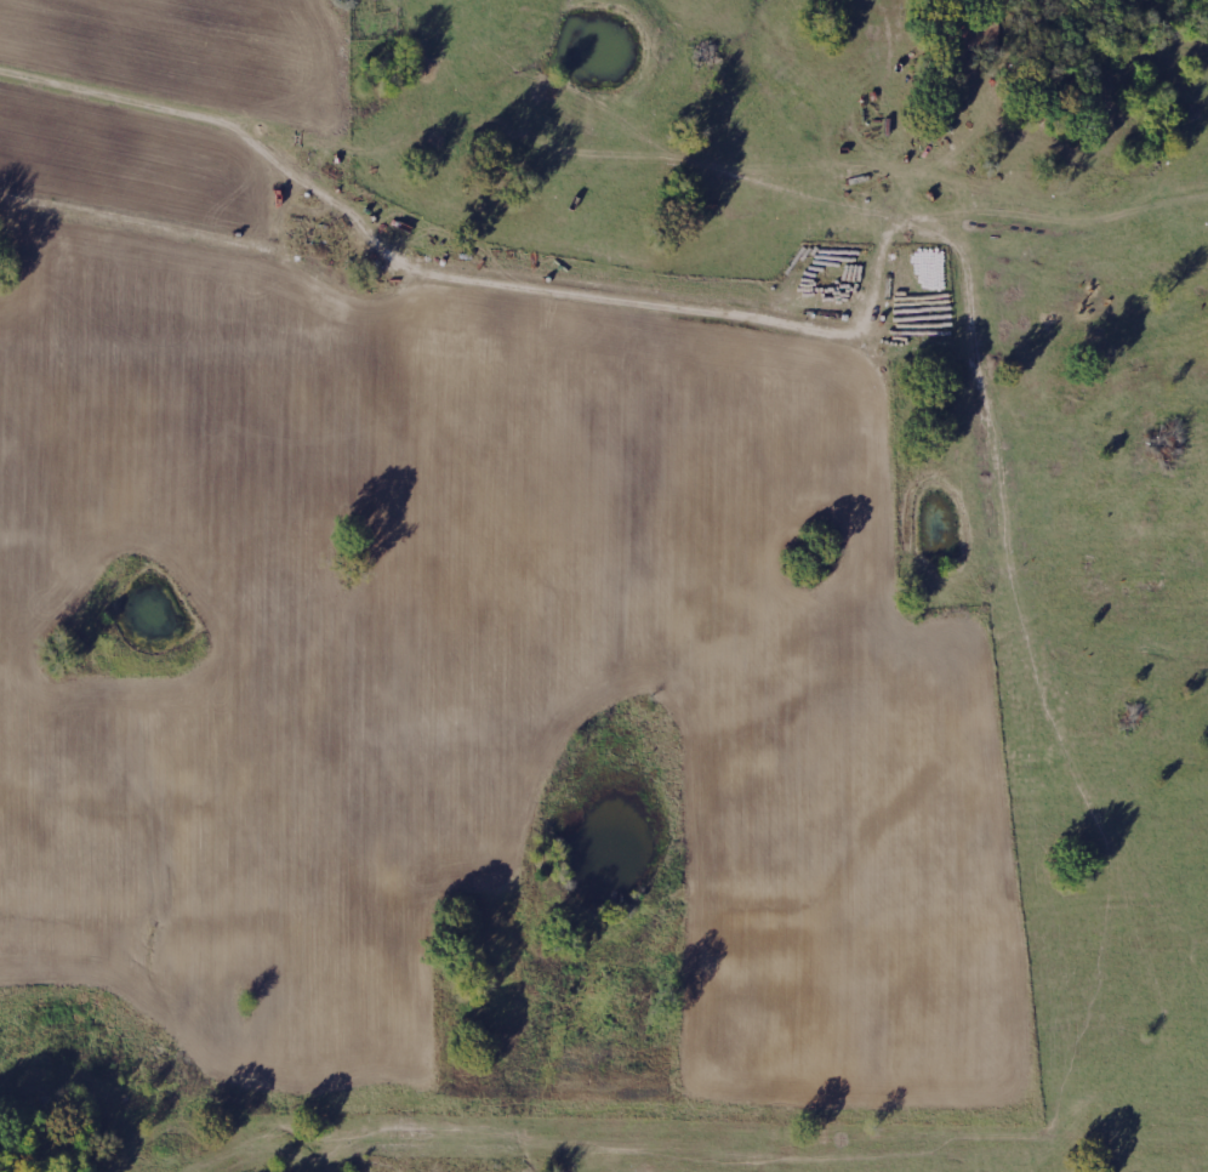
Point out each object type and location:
road: (769, 1150)
road: (172, 1166)

